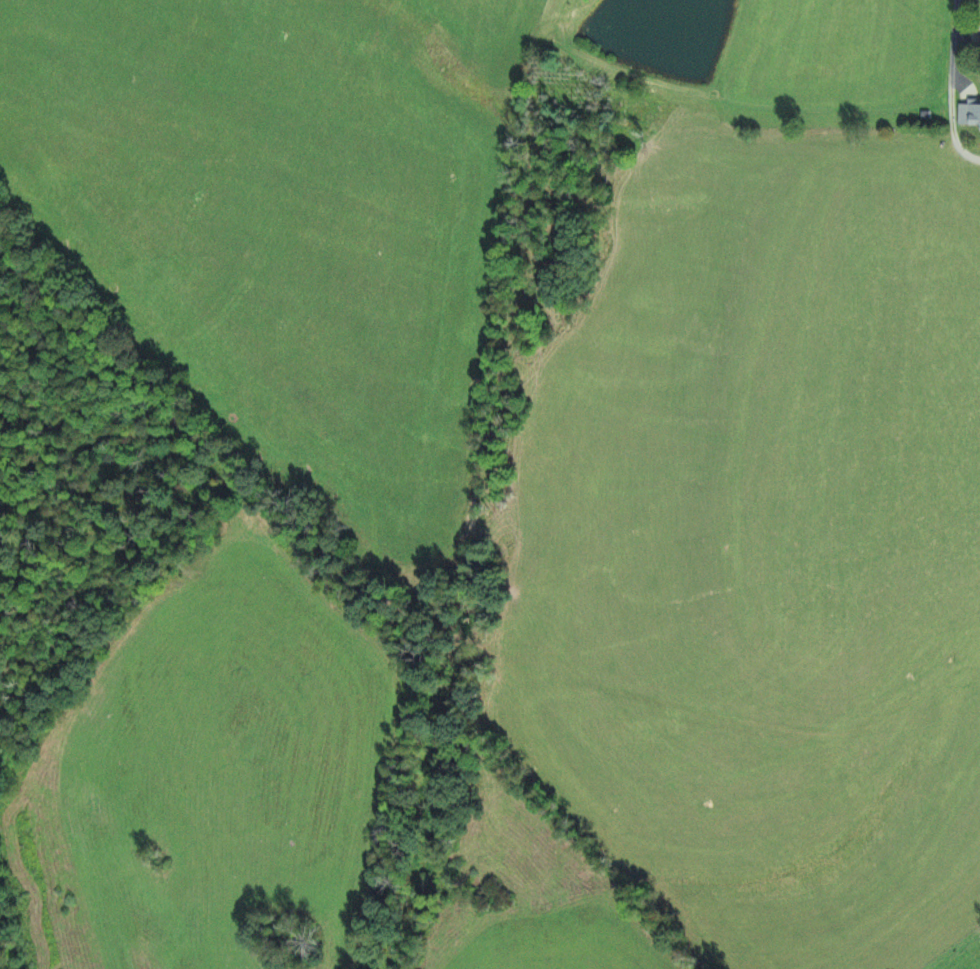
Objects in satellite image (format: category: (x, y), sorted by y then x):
building: (969, 113)

